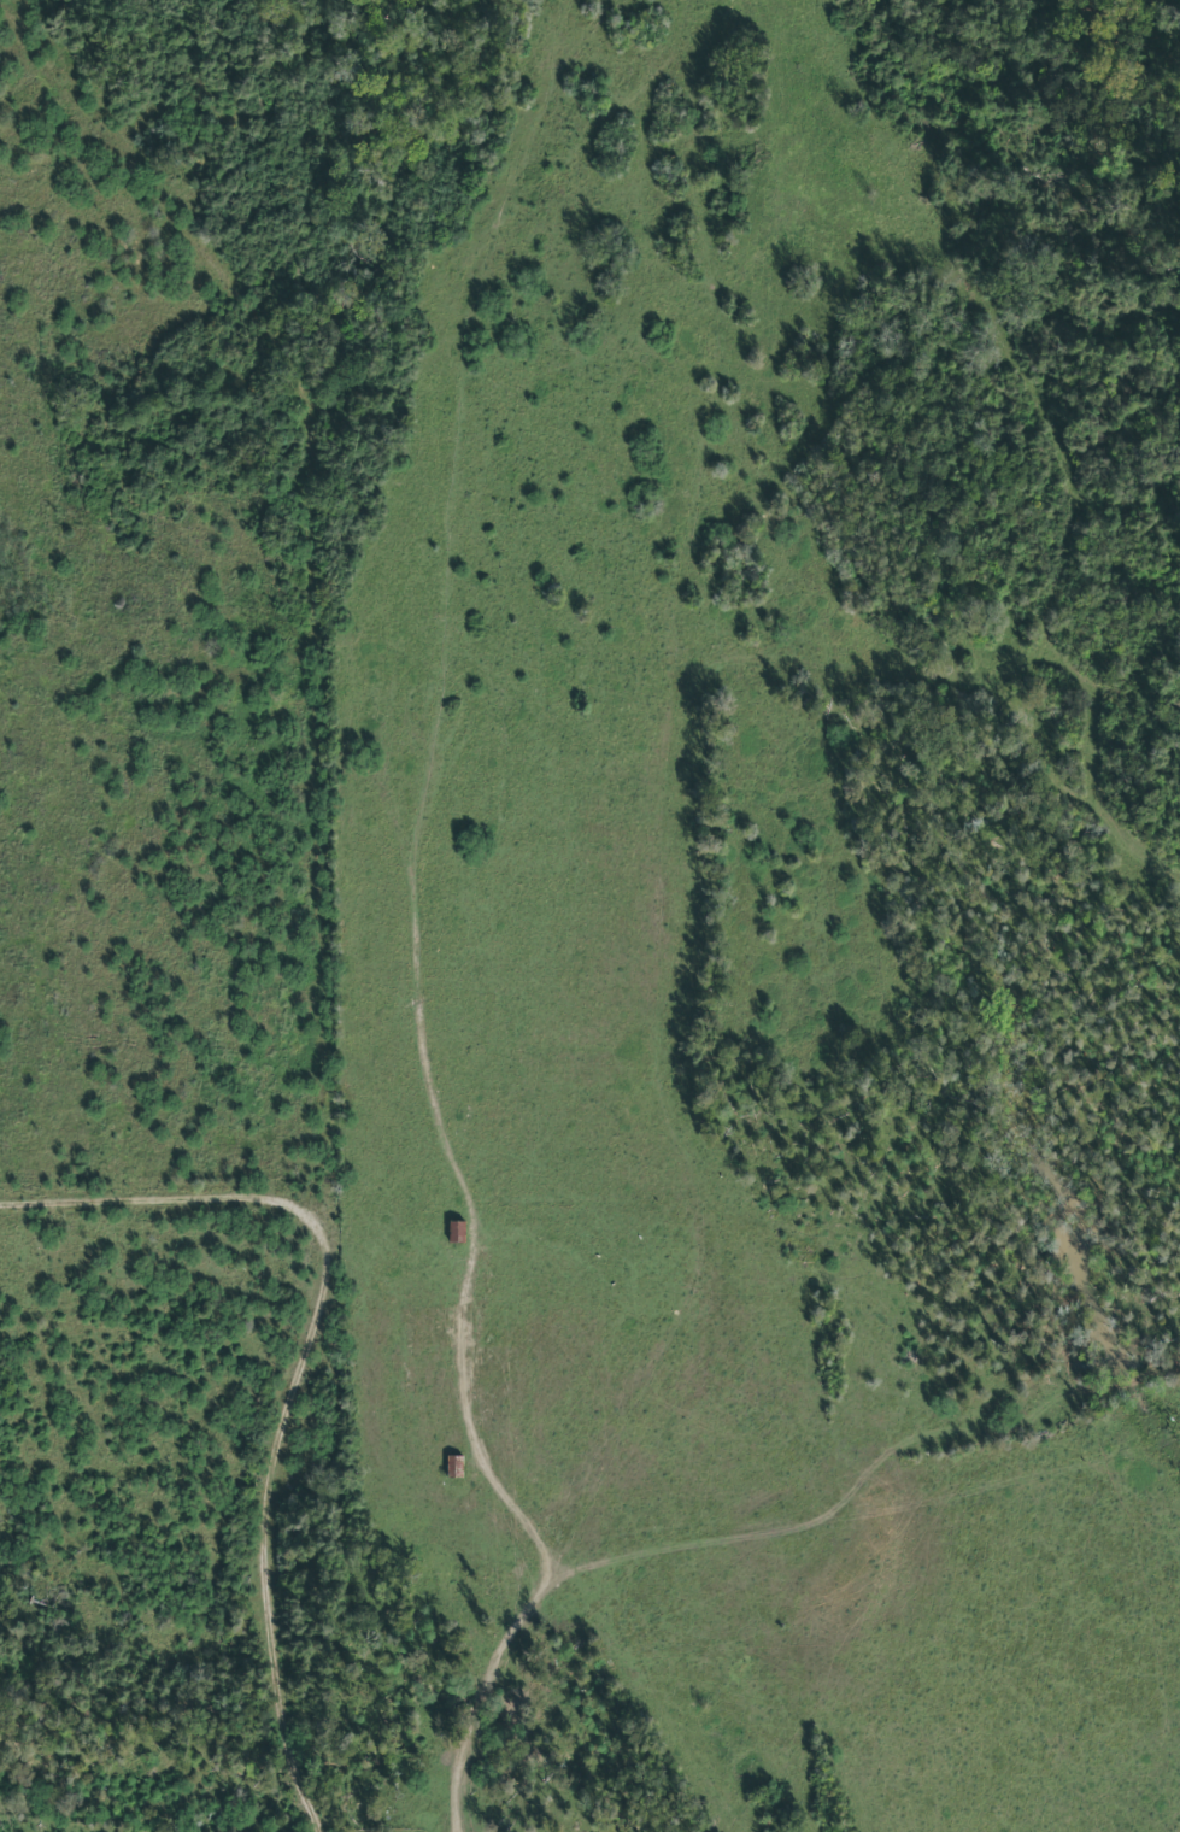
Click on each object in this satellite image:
road: (84, 72)
road: (58, 182)
park: (384, 511)
road: (330, 964)
road: (169, 1206)
road: (472, 1363)
road: (142, 1643)

